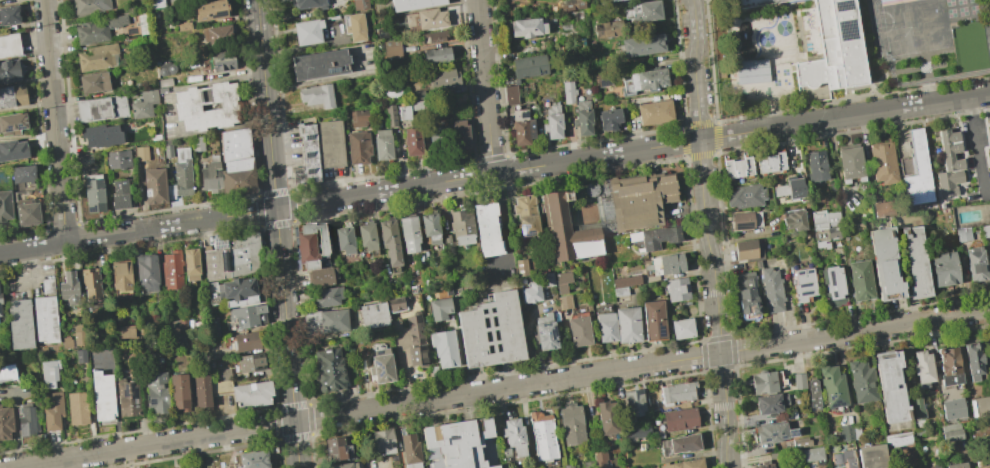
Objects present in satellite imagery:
building: (610, 0)
building: (617, 1)
park: (972, 1)
park: (961, 2)
building: (156, 3)
building: (308, 3)
building: (752, 3)
park: (950, 3)
building: (359, 4)
building: (413, 4)
building: (576, 4)
building: (89, 6)
rooftop solar panel: (843, 7)
building: (208, 10)
park: (974, 10)
park: (963, 12)
building: (645, 13)
building: (9, 14)
rooftop solar panel: (218, 14)
park: (951, 14)
park: (786, 15)
rooftop solar panel: (207, 16)
building: (426, 19)
park: (768, 20)
building: (184, 26)
building: (355, 27)
park: (913, 27)
building: (97, 28)
building: (526, 28)
park: (783, 28)
rooftop solar panel: (846, 29)
building: (609, 30)
building: (307, 32)
building: (215, 35)
building: (433, 36)
track: (934, 38)
park: (765, 39)
building: (9, 45)
building: (642, 47)
park: (969, 47)
building: (390, 48)
building: (836, 48)
building: (436, 54)
building: (95, 57)
building: (222, 61)
building: (320, 64)
building: (529, 66)
park: (924, 67)
building: (166, 68)
building: (9, 71)
rooftop solar panel: (331, 72)
building: (752, 72)
park: (785, 72)
park: (776, 73)
building: (443, 79)
building: (605, 80)
building: (648, 81)
building: (93, 82)
building: (164, 82)
park: (786, 82)
park: (776, 83)
road: (485, 87)
building: (569, 93)
park: (755, 93)
building: (510, 94)
building: (12, 95)
building: (317, 95)
building: (143, 104)
building: (186, 106)
building: (419, 107)
building: (101, 108)
building: (404, 112)
building: (656, 113)
building: (392, 116)
building: (361, 119)
building: (584, 119)
building: (610, 120)
road: (54, 121)
building: (12, 123)
building: (554, 124)
rooftop solar panel: (2, 125)
rooftop solar panel: (18, 126)
rooftop solar panel: (7, 127)
building: (523, 129)
building: (989, 129)
building: (101, 135)
building: (461, 136)
rooftop solar panel: (306, 137)
building: (440, 140)
building: (196, 143)
building: (413, 143)
building: (332, 146)
building: (383, 146)
road: (977, 147)
building: (359, 148)
building: (13, 150)
building: (167, 151)
building: (989, 151)
building: (140, 153)
rooftop solar panel: (306, 154)
building: (307, 156)
building: (117, 159)
building: (239, 163)
building: (851, 163)
building: (883, 163)
building: (772, 164)
building: (950, 165)
building: (816, 167)
building: (738, 168)
rooftop solar panel: (308, 171)
building: (916, 172)
building: (22, 173)
road: (494, 173)
building: (181, 174)
building: (210, 177)
building: (154, 184)
building: (791, 190)
building: (93, 193)
building: (119, 194)
building: (746, 197)
building: (632, 201)
building: (5, 205)
rooftop solar panel: (91, 209)
building: (884, 210)
building: (27, 212)
building: (526, 216)
building: (745, 220)
building: (825, 220)
building: (795, 221)
rooftop solar panel: (746, 225)
building: (462, 227)
building: (431, 228)
building: (487, 230)
building: (568, 230)
road: (505, 232)
building: (986, 232)
road: (277, 234)
building: (410, 234)
road: (706, 234)
building: (963, 235)
building: (368, 237)
building: (826, 237)
building: (655, 238)
building: (345, 240)
building: (390, 242)
building: (314, 246)
building: (748, 251)
building: (234, 257)
building: (916, 263)
building: (190, 264)
building: (886, 264)
building: (976, 264)
building: (667, 265)
road: (27, 266)
building: (522, 268)
building: (945, 268)
building: (171, 270)
rooftop solar panel: (808, 271)
building: (146, 272)
rooftop solar panel: (799, 272)
building: (121, 276)
building: (322, 277)
rooftop solar panel: (830, 277)
building: (861, 280)
building: (90, 282)
building: (563, 282)
building: (626, 282)
building: (47, 286)
building: (438, 286)
building: (834, 286)
building: (804, 287)
rooftop solar panel: (804, 287)
building: (68, 288)
building: (677, 290)
building: (772, 291)
building: (237, 292)
building: (620, 292)
rooftop solar panel: (806, 292)
rooftop solar panel: (833, 292)
building: (531, 293)
building: (328, 296)
building: (747, 296)
building: (0, 299)
building: (565, 302)
building: (396, 304)
building: (440, 309)
rooftop solar panel: (491, 310)
rooftop solar panel: (482, 312)
building: (0, 314)
building: (371, 316)
building: (246, 317)
building: (45, 319)
building: (329, 321)
building: (654, 321)
rooftop solar panel: (492, 322)
building: (19, 324)
rooftop solar panel: (484, 325)
rooftop solar panel: (545, 325)
building: (628, 325)
building: (606, 327)
building: (683, 329)
rooftop solar panel: (661, 330)
building: (125, 331)
building: (491, 331)
building: (579, 331)
building: (546, 332)
rooftop solar panel: (550, 332)
rooftop solar panel: (537, 333)
rooftop solar panel: (495, 336)
rooftop solar panel: (485, 337)
building: (79, 338)
building: (989, 339)
building: (246, 341)
rooftop solar panel: (553, 341)
building: (66, 343)
building: (417, 343)
building: (444, 348)
rooftop solar panel: (495, 348)
building: (313, 349)
rooftop solar panel: (488, 351)
building: (80, 356)
building: (249, 362)
building: (973, 362)
building: (382, 367)
building: (949, 367)
building: (923, 368)
rooftop solar panel: (380, 369)
building: (329, 370)
building: (7, 372)
building: (49, 373)
building: (799, 381)
building: (862, 382)
building: (764, 383)
building: (833, 387)
building: (890, 387)
road: (501, 389)
building: (201, 390)
building: (156, 391)
building: (179, 392)
building: (678, 392)
building: (252, 394)
building: (812, 395)
building: (103, 397)
building: (129, 398)
building: (634, 403)
building: (771, 404)
building: (77, 408)
building: (917, 408)
building: (951, 408)
building: (980, 408)
rooftop solar panel: (971, 410)
building: (53, 413)
building: (788, 416)
building: (608, 418)
building: (680, 420)
building: (27, 422)
building: (5, 423)
building: (573, 424)
rooftop solar panel: (795, 431)
building: (637, 432)
building: (775, 432)
building: (857, 432)
building: (845, 433)
building: (951, 433)
rooftop solar panel: (770, 434)
rooftop solar panel: (783, 436)
building: (544, 437)
building: (514, 438)
rooftop solar panel: (764, 440)
building: (900, 440)
building: (384, 441)
building: (456, 443)
building: (801, 443)
building: (680, 445)
building: (335, 449)
building: (411, 451)
building: (814, 455)
building: (504, 456)
building: (872, 456)
building: (600, 459)
building: (844, 459)
building: (252, 460)
road: (74, 463)
parking lot: (378, 464)
building: (589, 464)
building: (686, 464)
building: (347, 465)
building: (765, 465)
building: (956, 465)
building: (569, 466)
building: (984, 466)
building: (192, 467)

